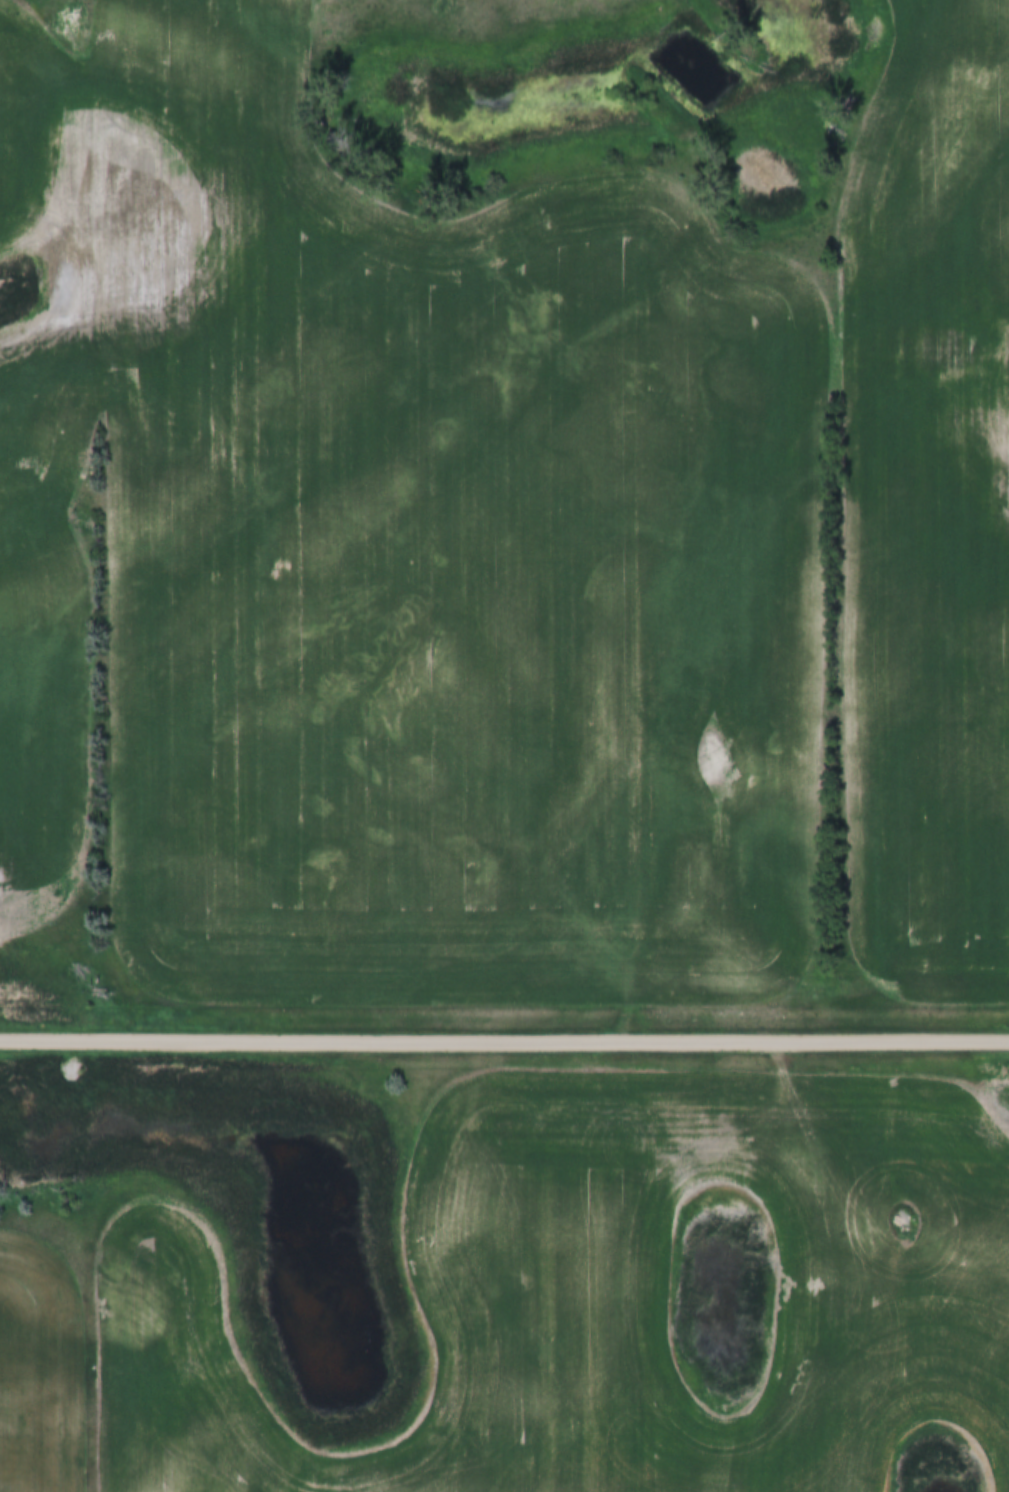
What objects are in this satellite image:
road: (504, 1044)

